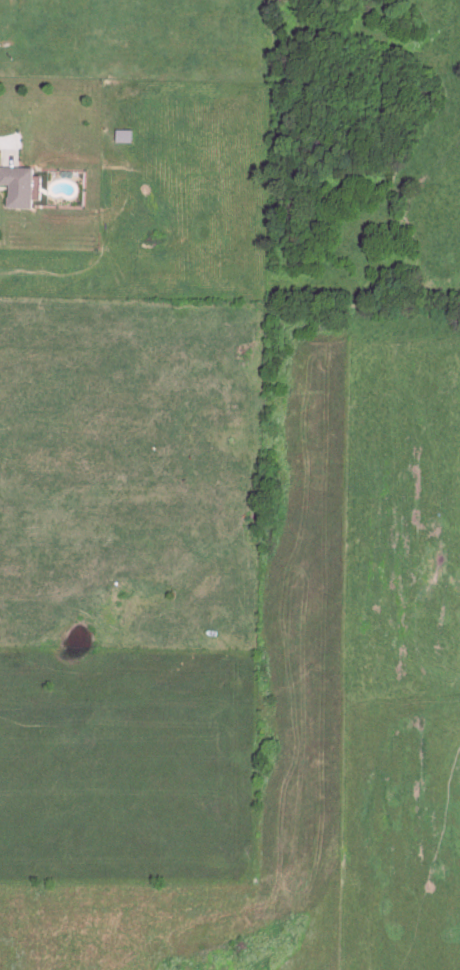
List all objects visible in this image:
road: (1, 141)
building: (16, 187)

